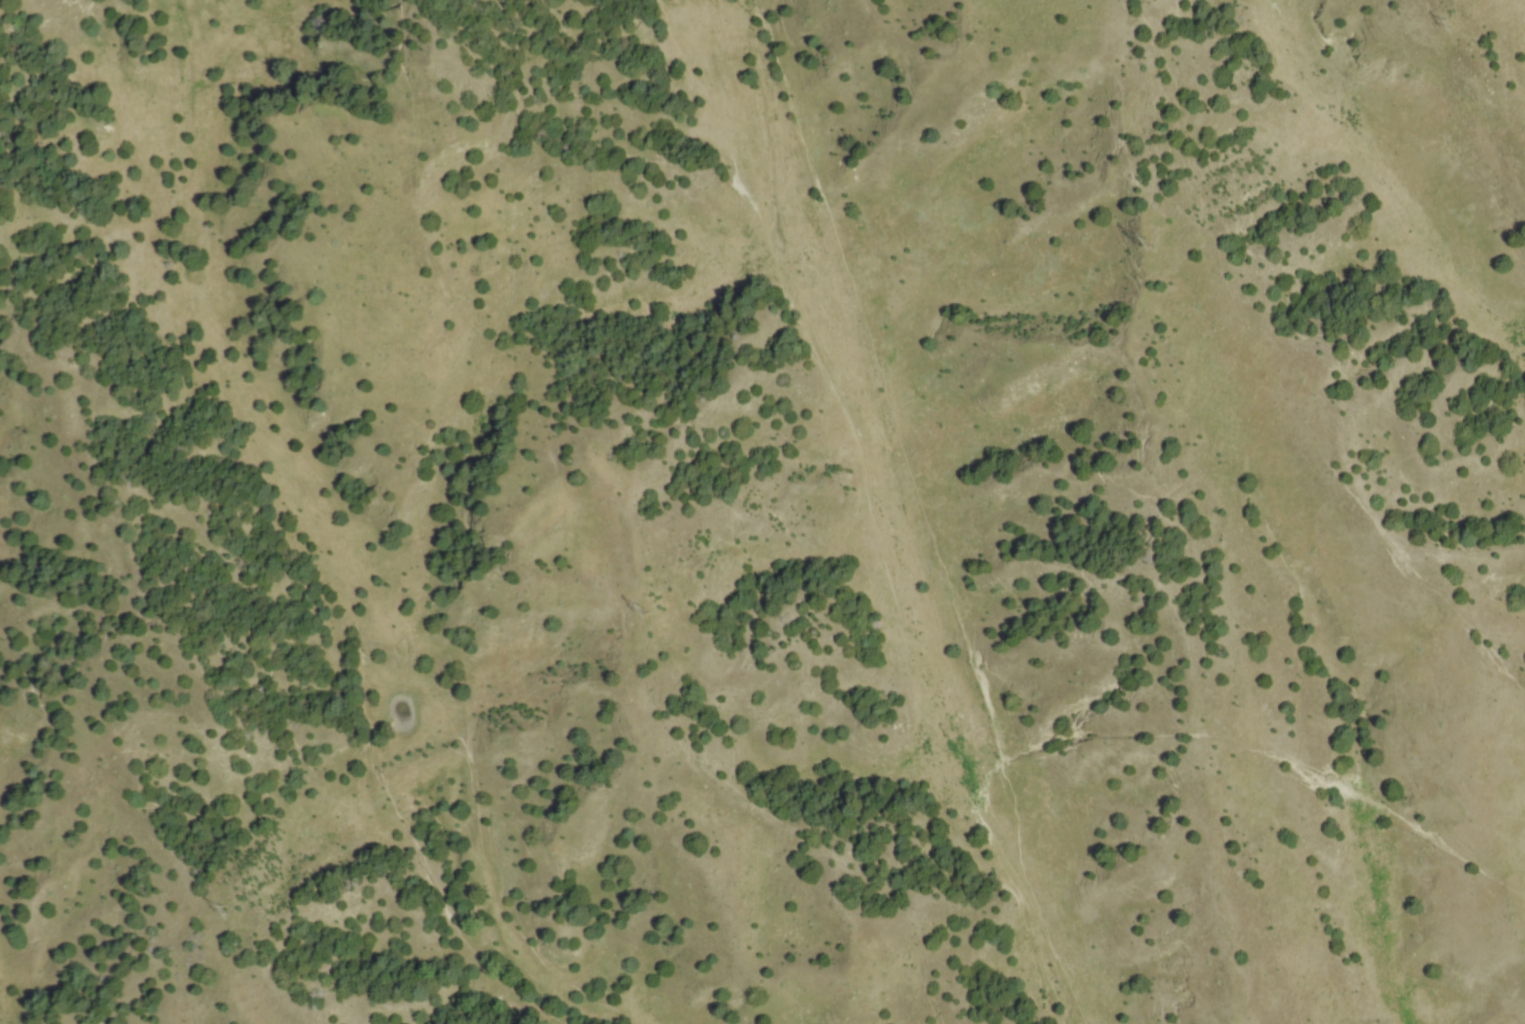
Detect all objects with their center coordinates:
power tower: (1453, 27)
power tower: (1154, 244)
power tower: (646, 613)
power tower: (229, 914)

